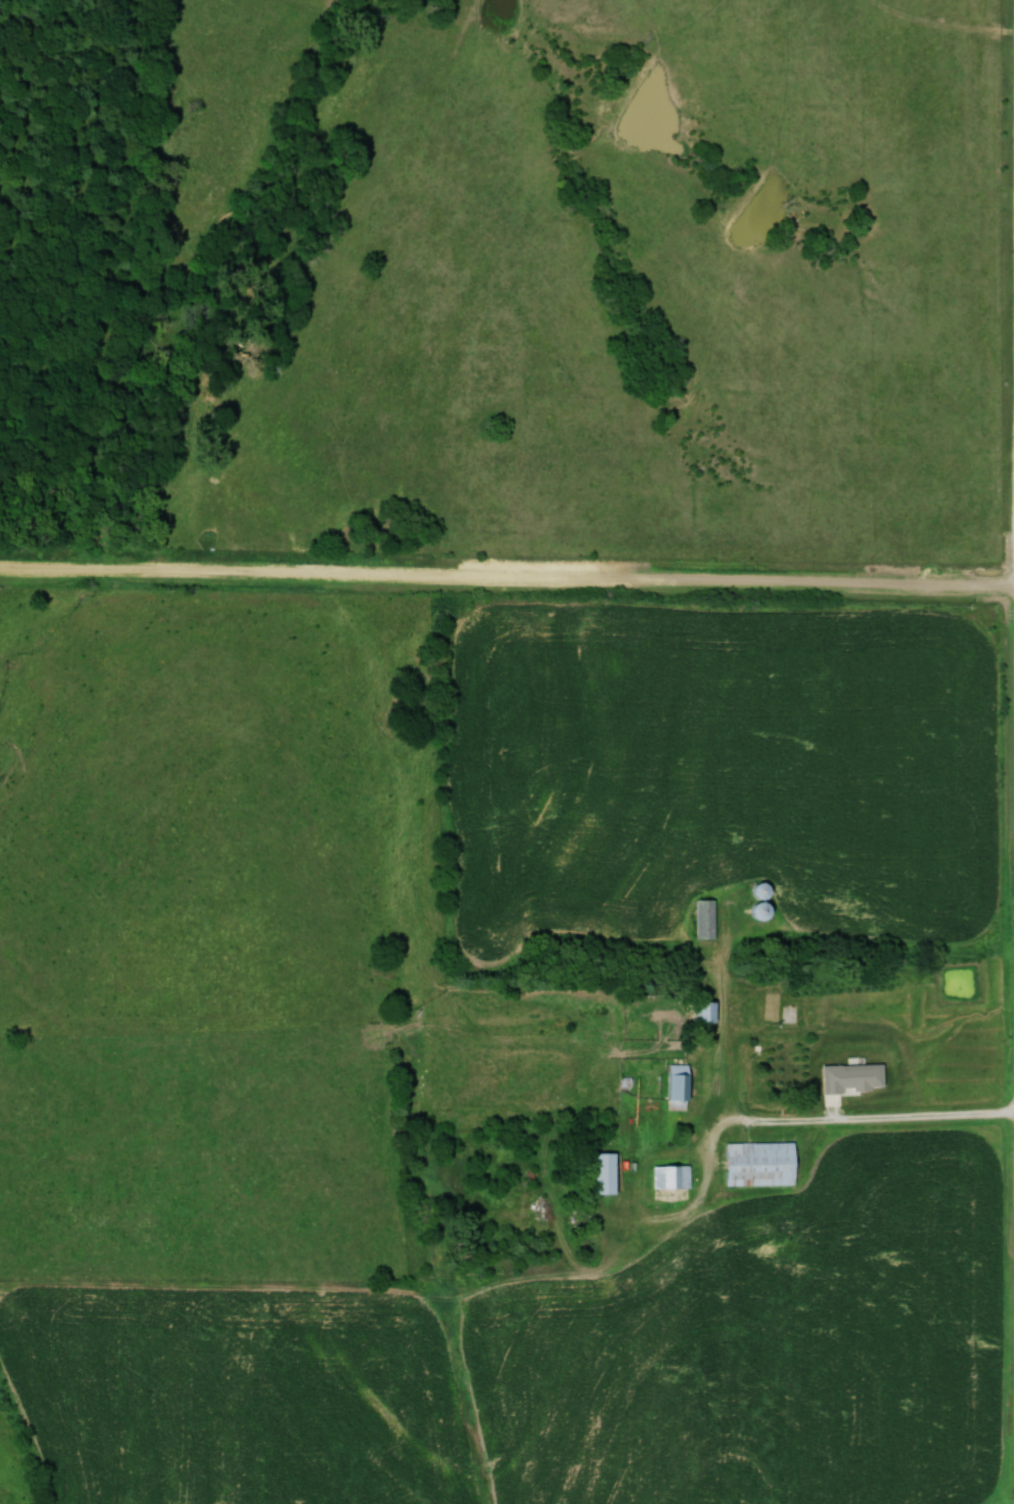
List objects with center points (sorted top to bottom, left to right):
road: (506, 580)
building: (707, 918)
building: (709, 1010)
building: (792, 1072)
building: (855, 1077)
building: (681, 1086)
road: (876, 1122)
building: (763, 1164)
building: (608, 1172)
building: (672, 1176)

